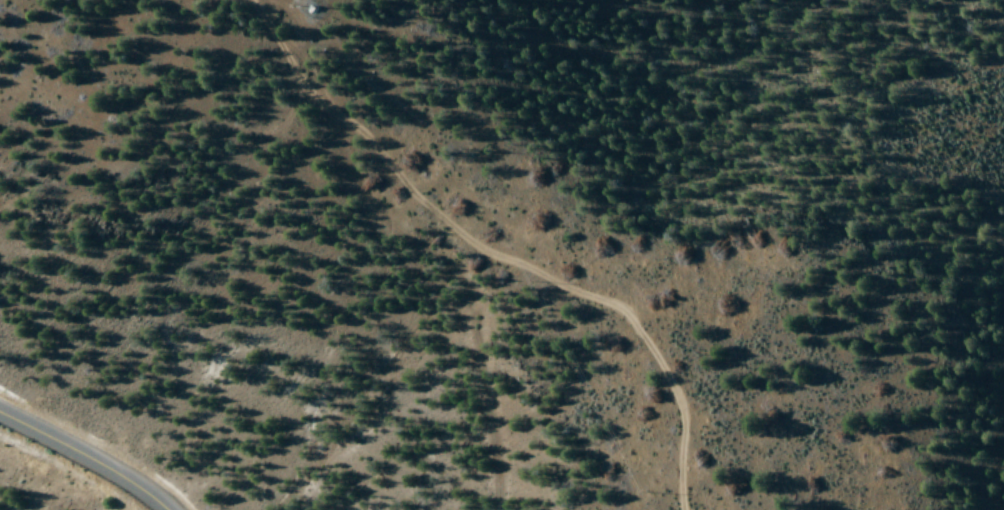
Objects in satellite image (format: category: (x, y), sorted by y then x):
road: (485, 250)
road: (90, 456)

